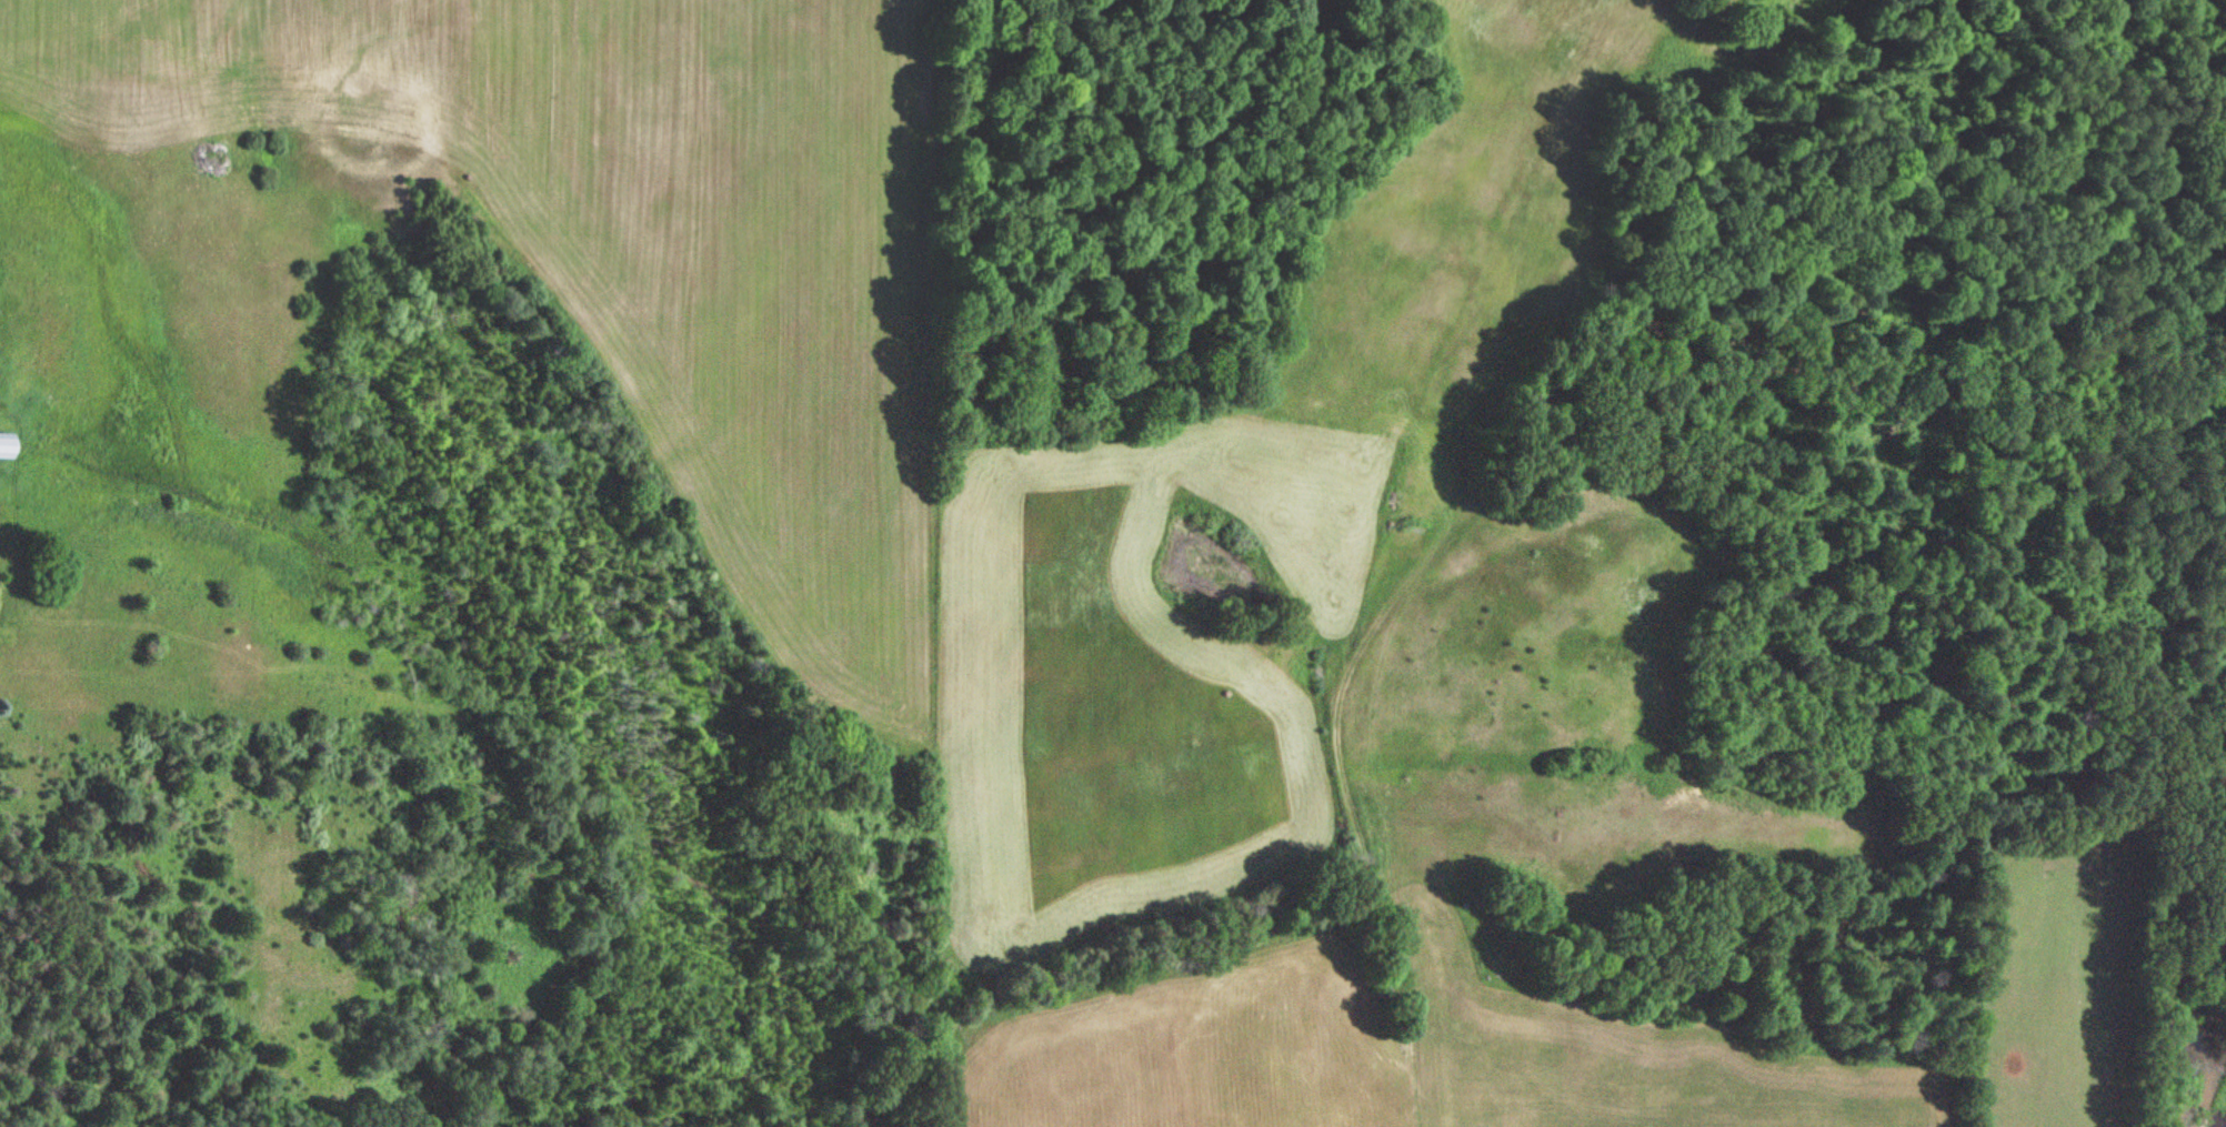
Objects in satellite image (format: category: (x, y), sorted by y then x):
building: (3, 446)

